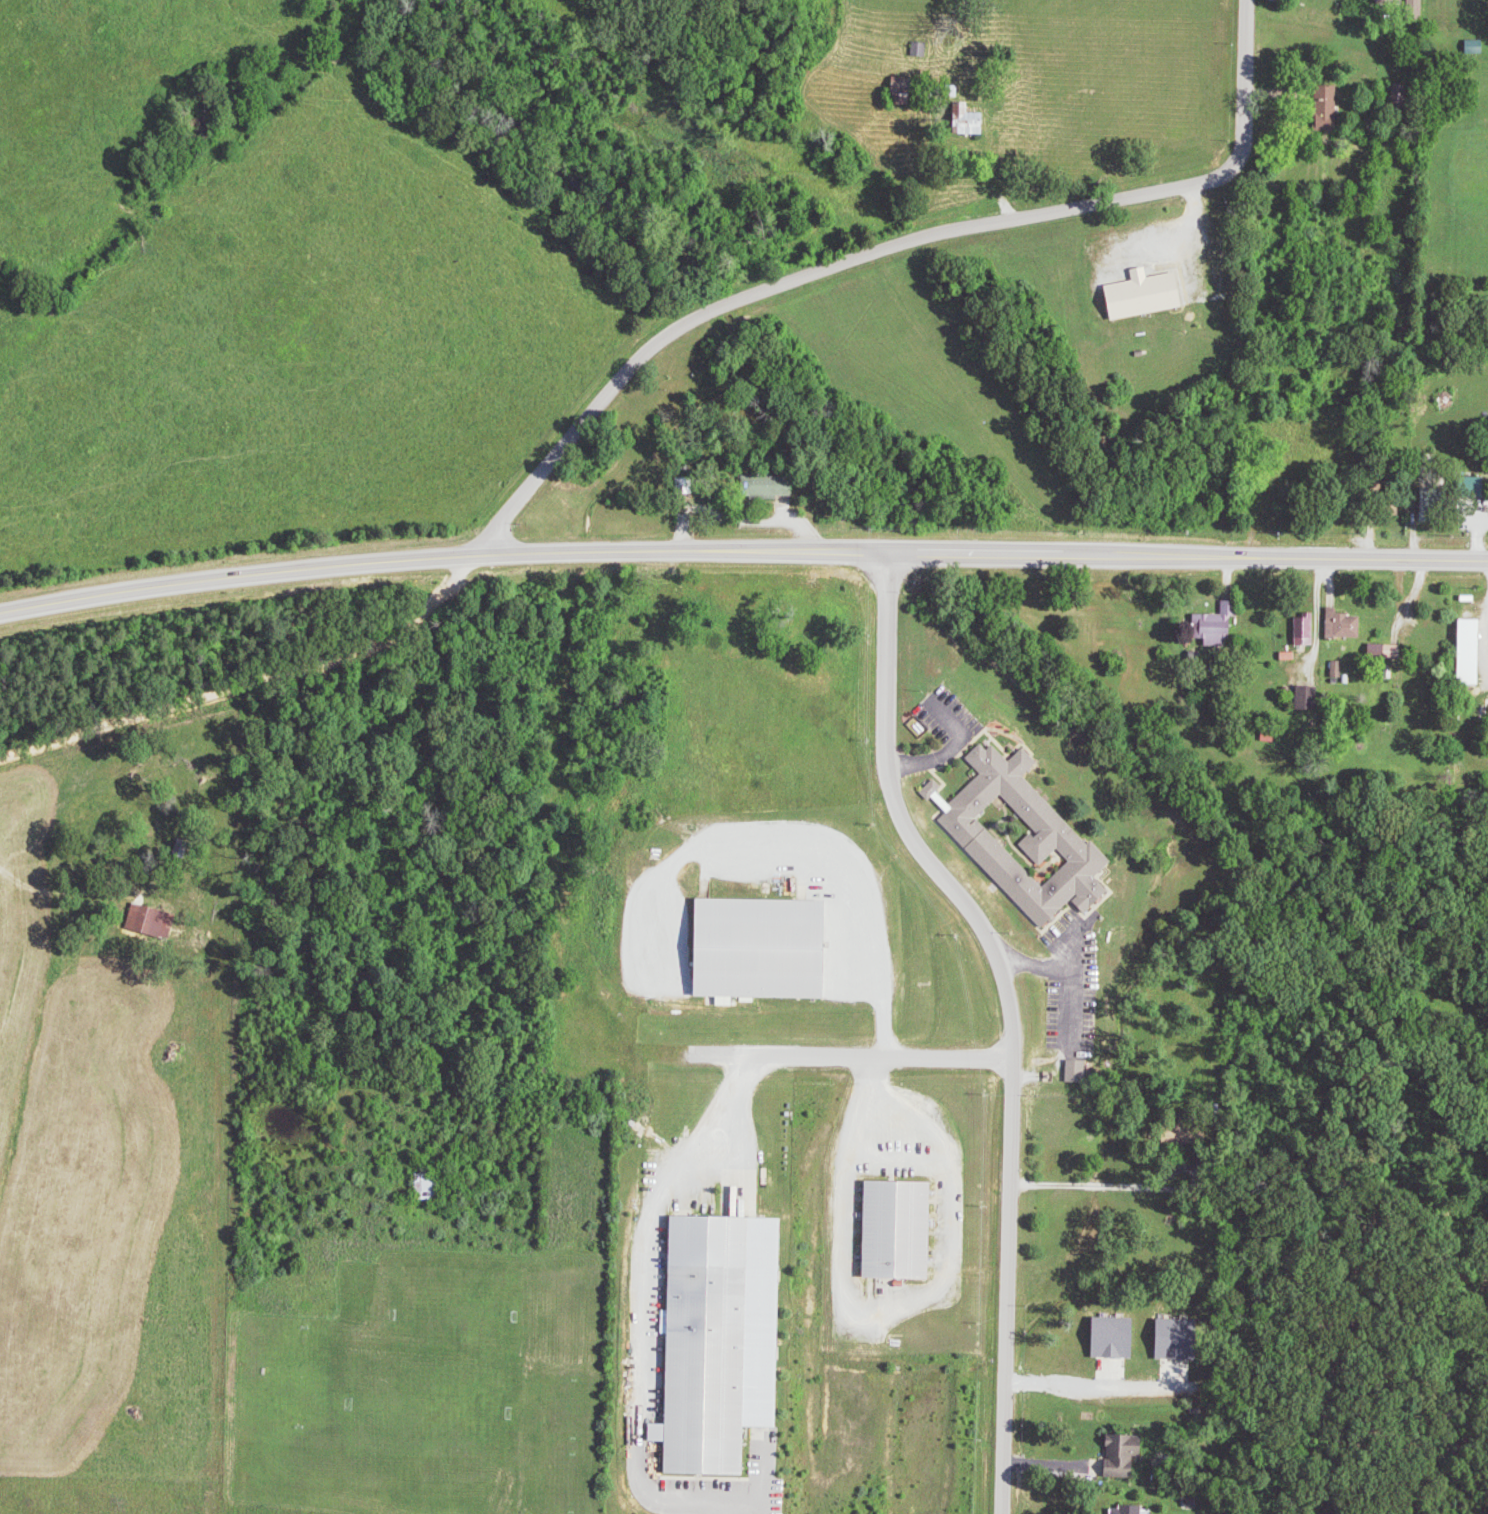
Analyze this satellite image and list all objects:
building: (1394, 1)
building: (1478, 46)
building: (906, 90)
building: (1337, 100)
building: (973, 121)
road: (882, 245)
building: (1151, 294)
building: (772, 486)
road: (741, 549)
building: (1346, 625)
building: (1217, 626)
building: (1308, 630)
building: (1389, 651)
building: (1476, 652)
building: (1339, 669)
road: (254, 685)
building: (1311, 698)
building: (934, 789)
building: (1028, 838)
building: (155, 920)
building: (767, 949)
road: (1011, 1016)
building: (1080, 1070)
road: (680, 1166)
building: (429, 1186)
building: (903, 1230)
building: (1119, 1337)
building: (725, 1338)
building: (1179, 1339)
building: (1129, 1455)
building: (1131, 1510)

